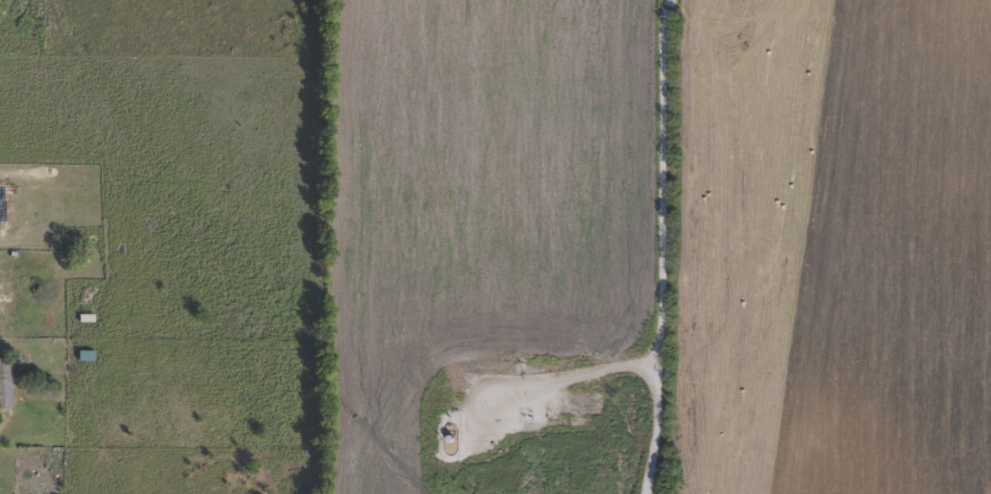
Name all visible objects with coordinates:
building: (1, 0)
building: (4, 386)

